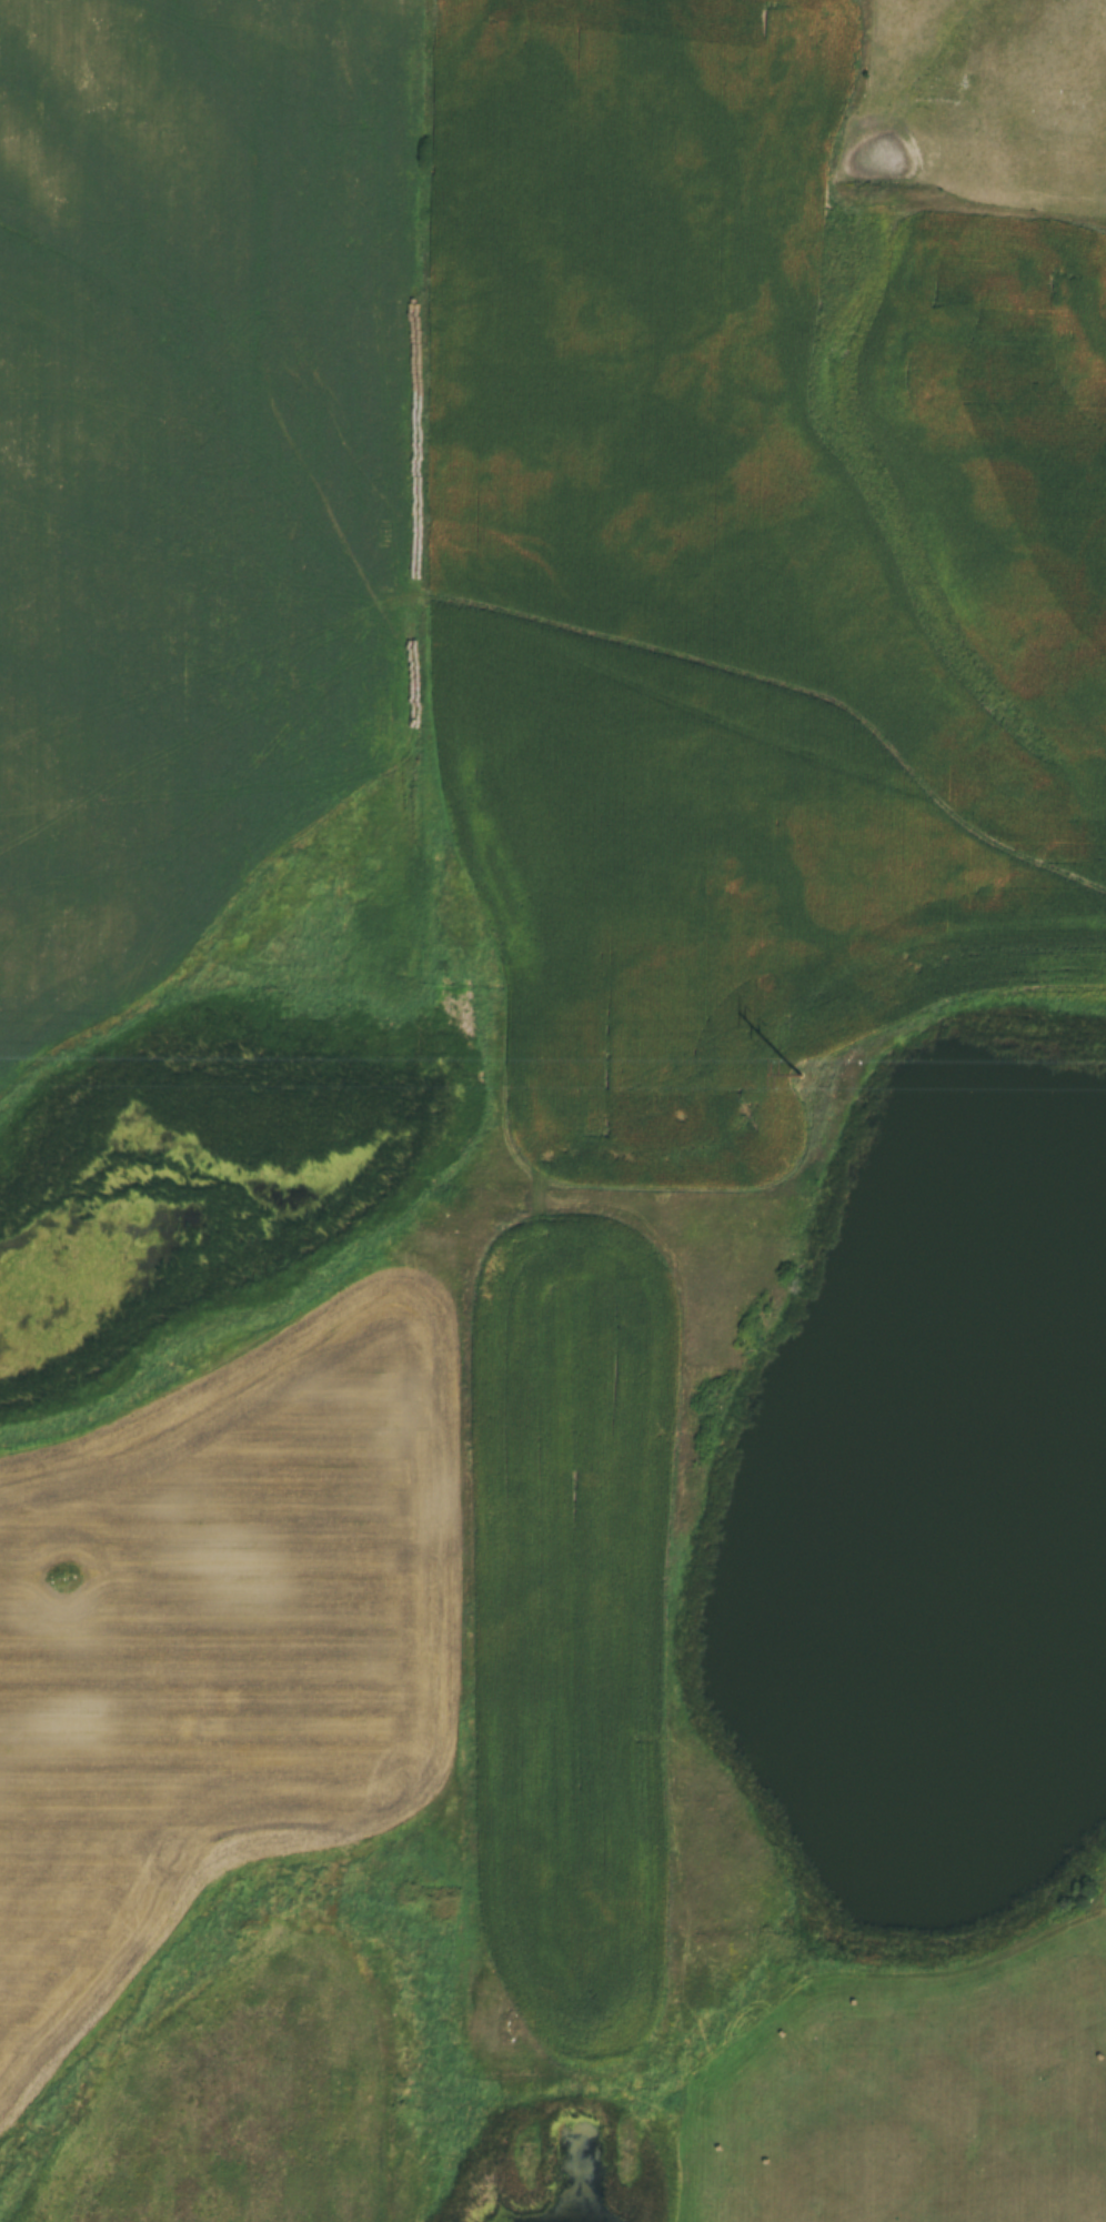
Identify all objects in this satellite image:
power tower: (780, 1068)

